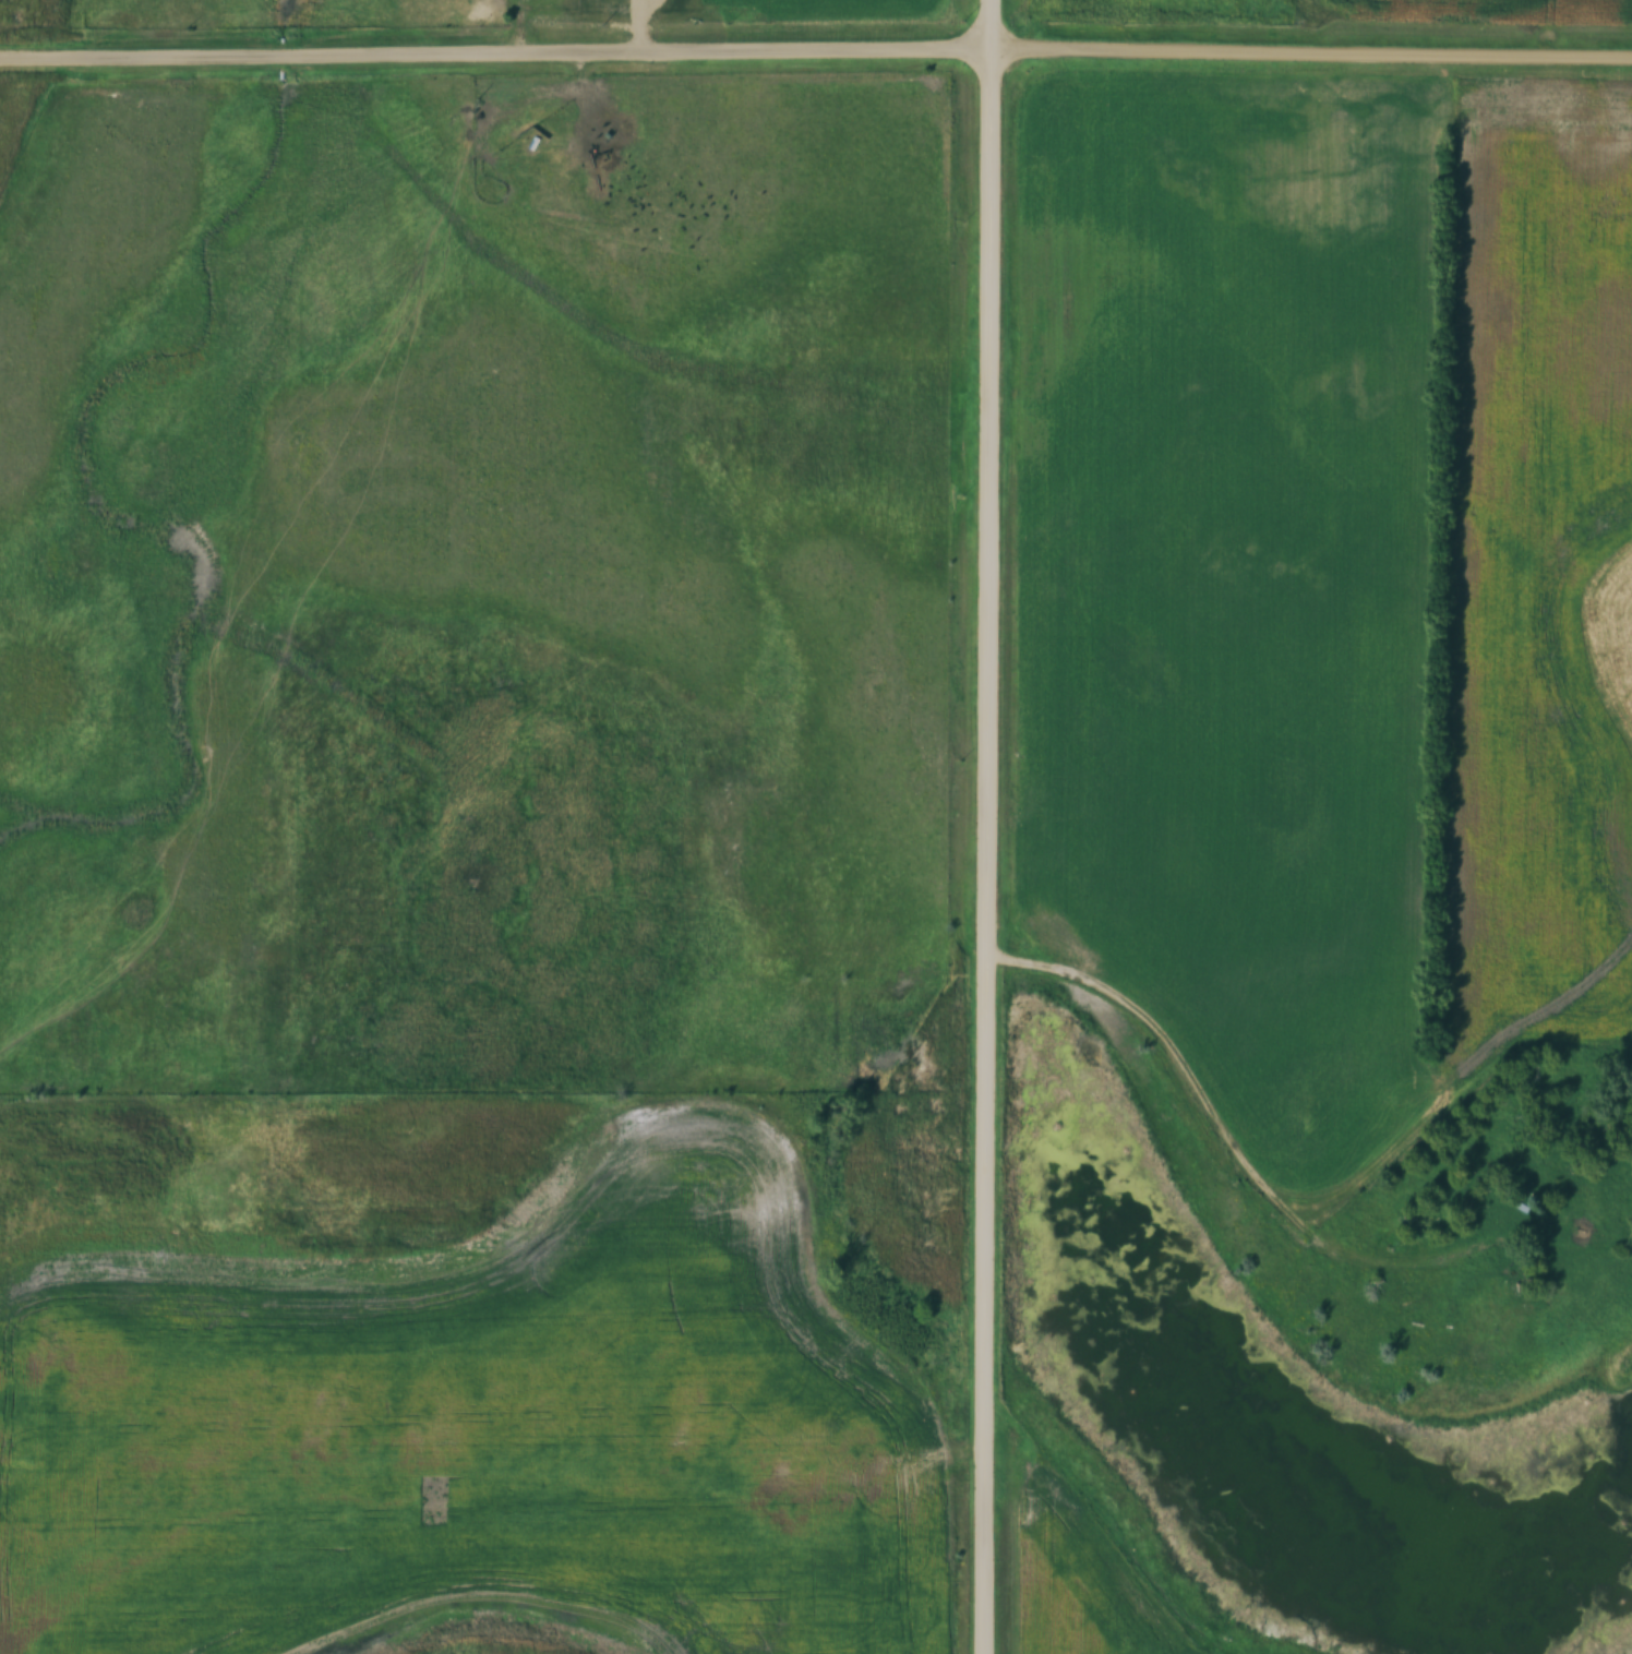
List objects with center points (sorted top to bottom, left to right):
road: (816, 51)
road: (988, 826)

